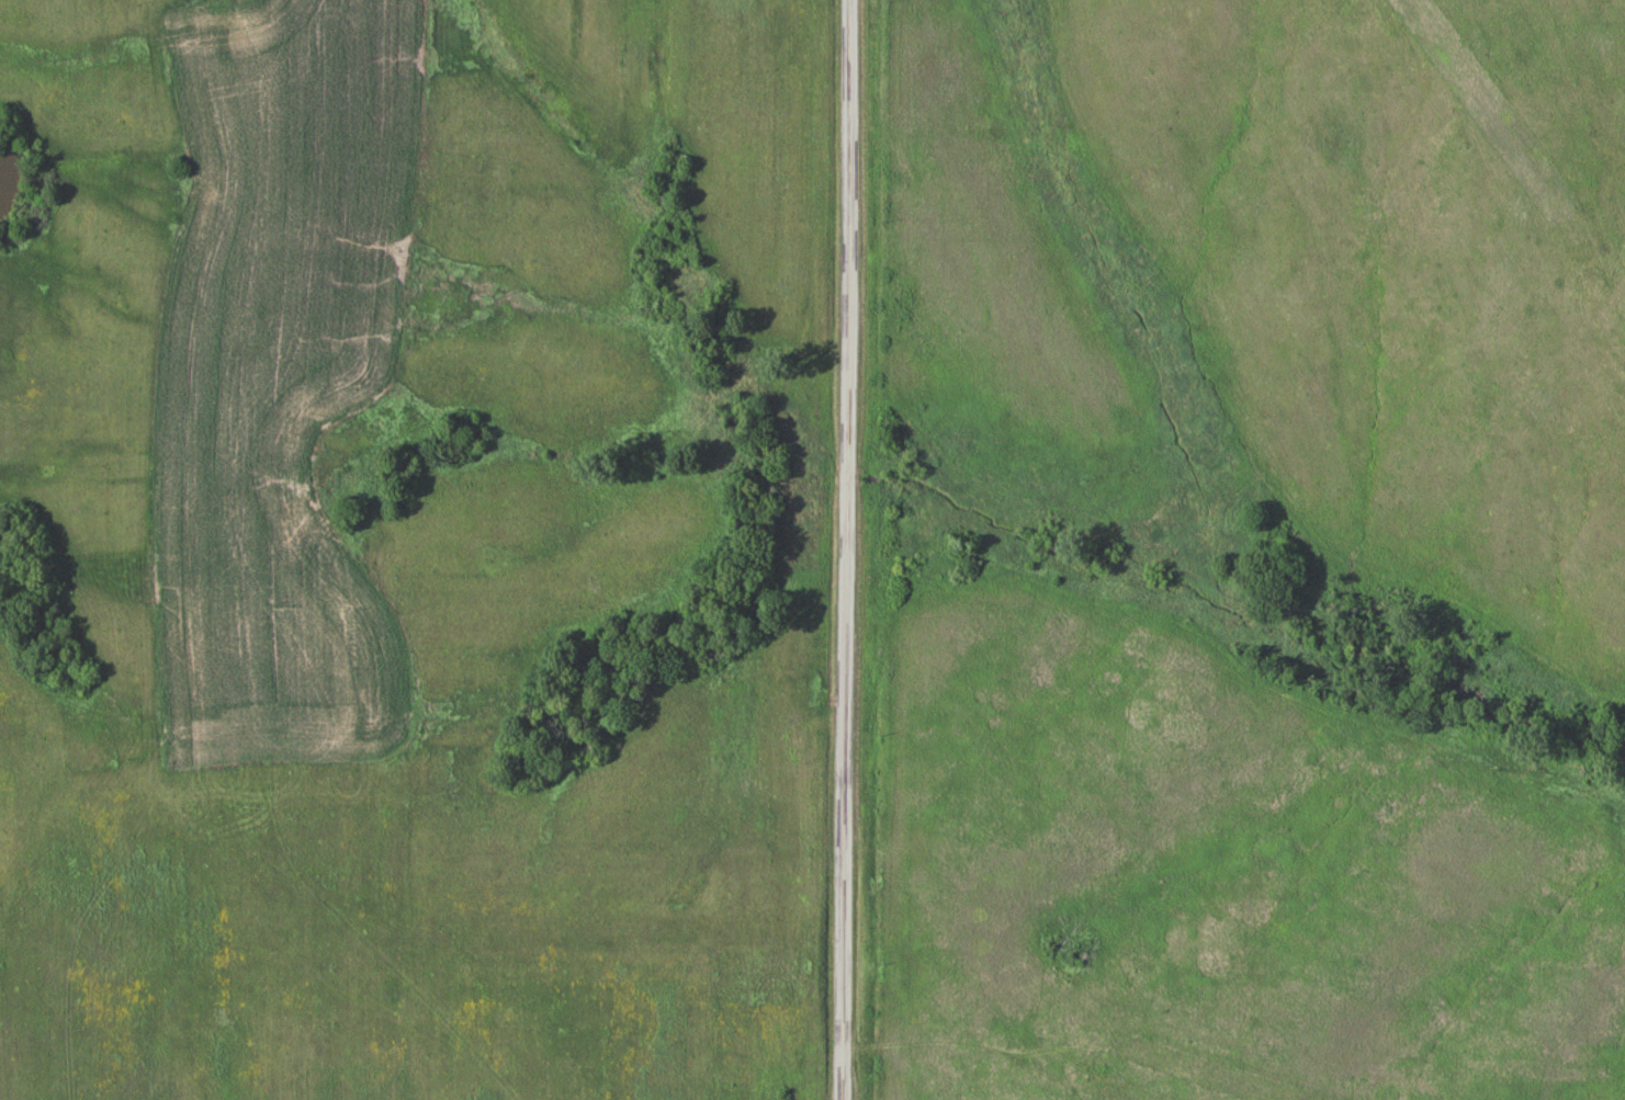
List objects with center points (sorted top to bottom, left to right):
road: (853, 549)

